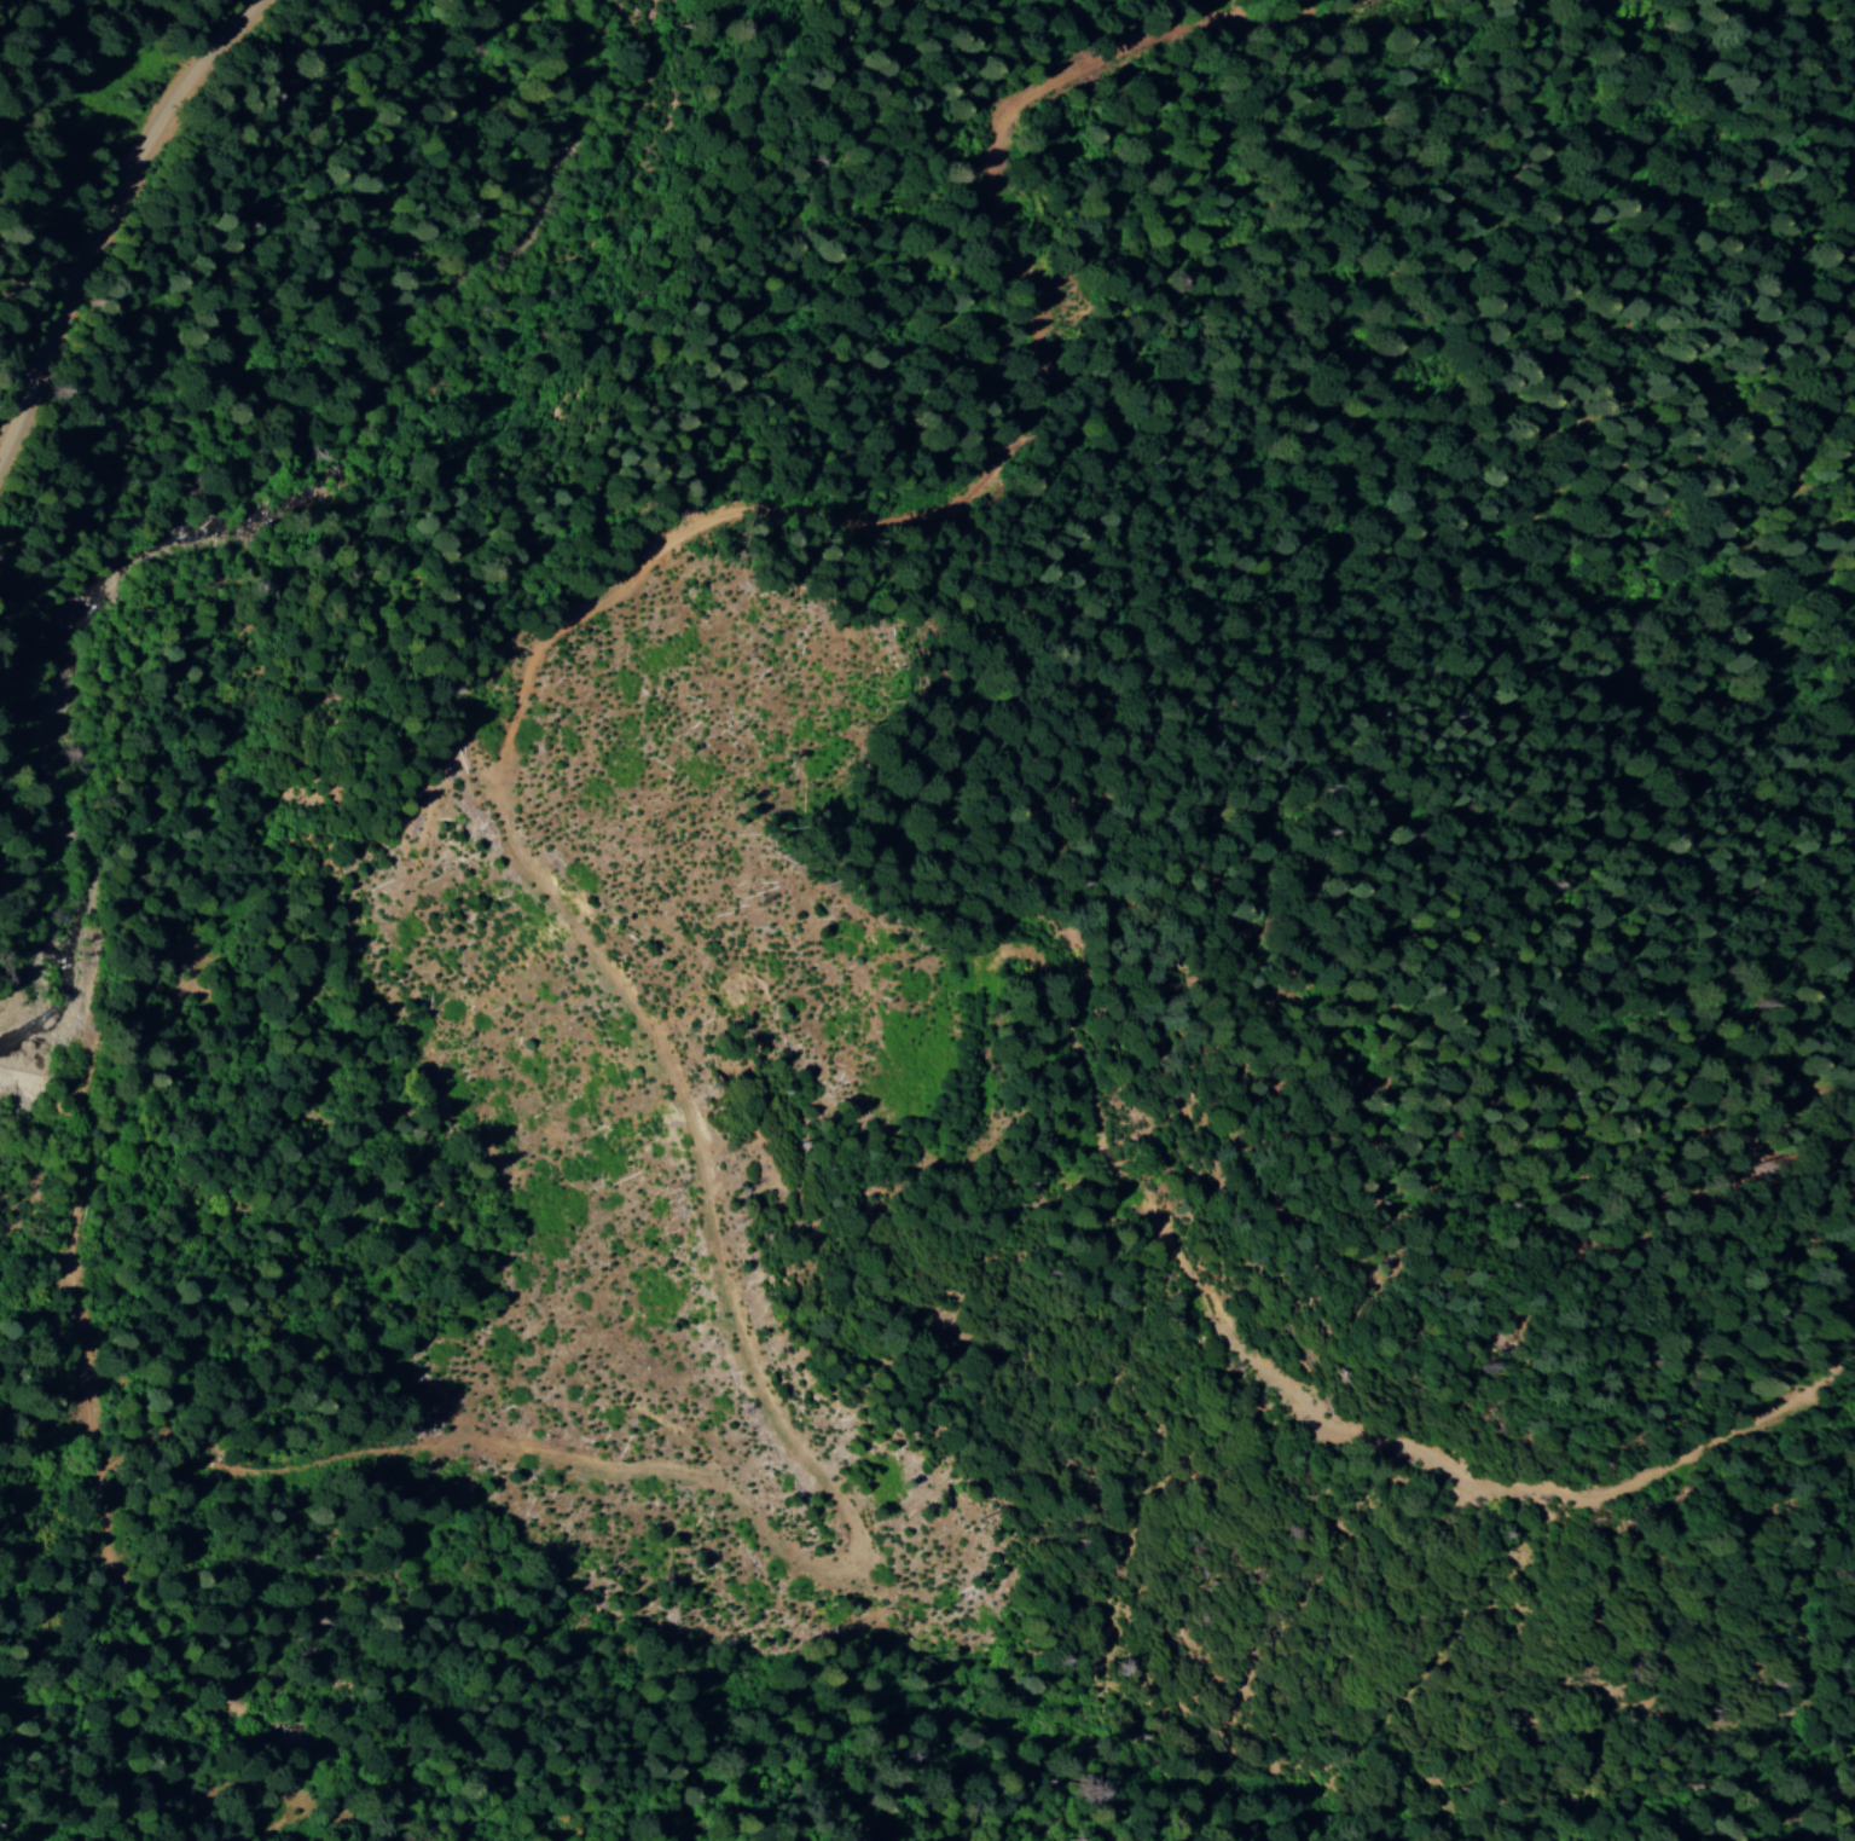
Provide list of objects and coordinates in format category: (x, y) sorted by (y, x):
road: (102, 214)

